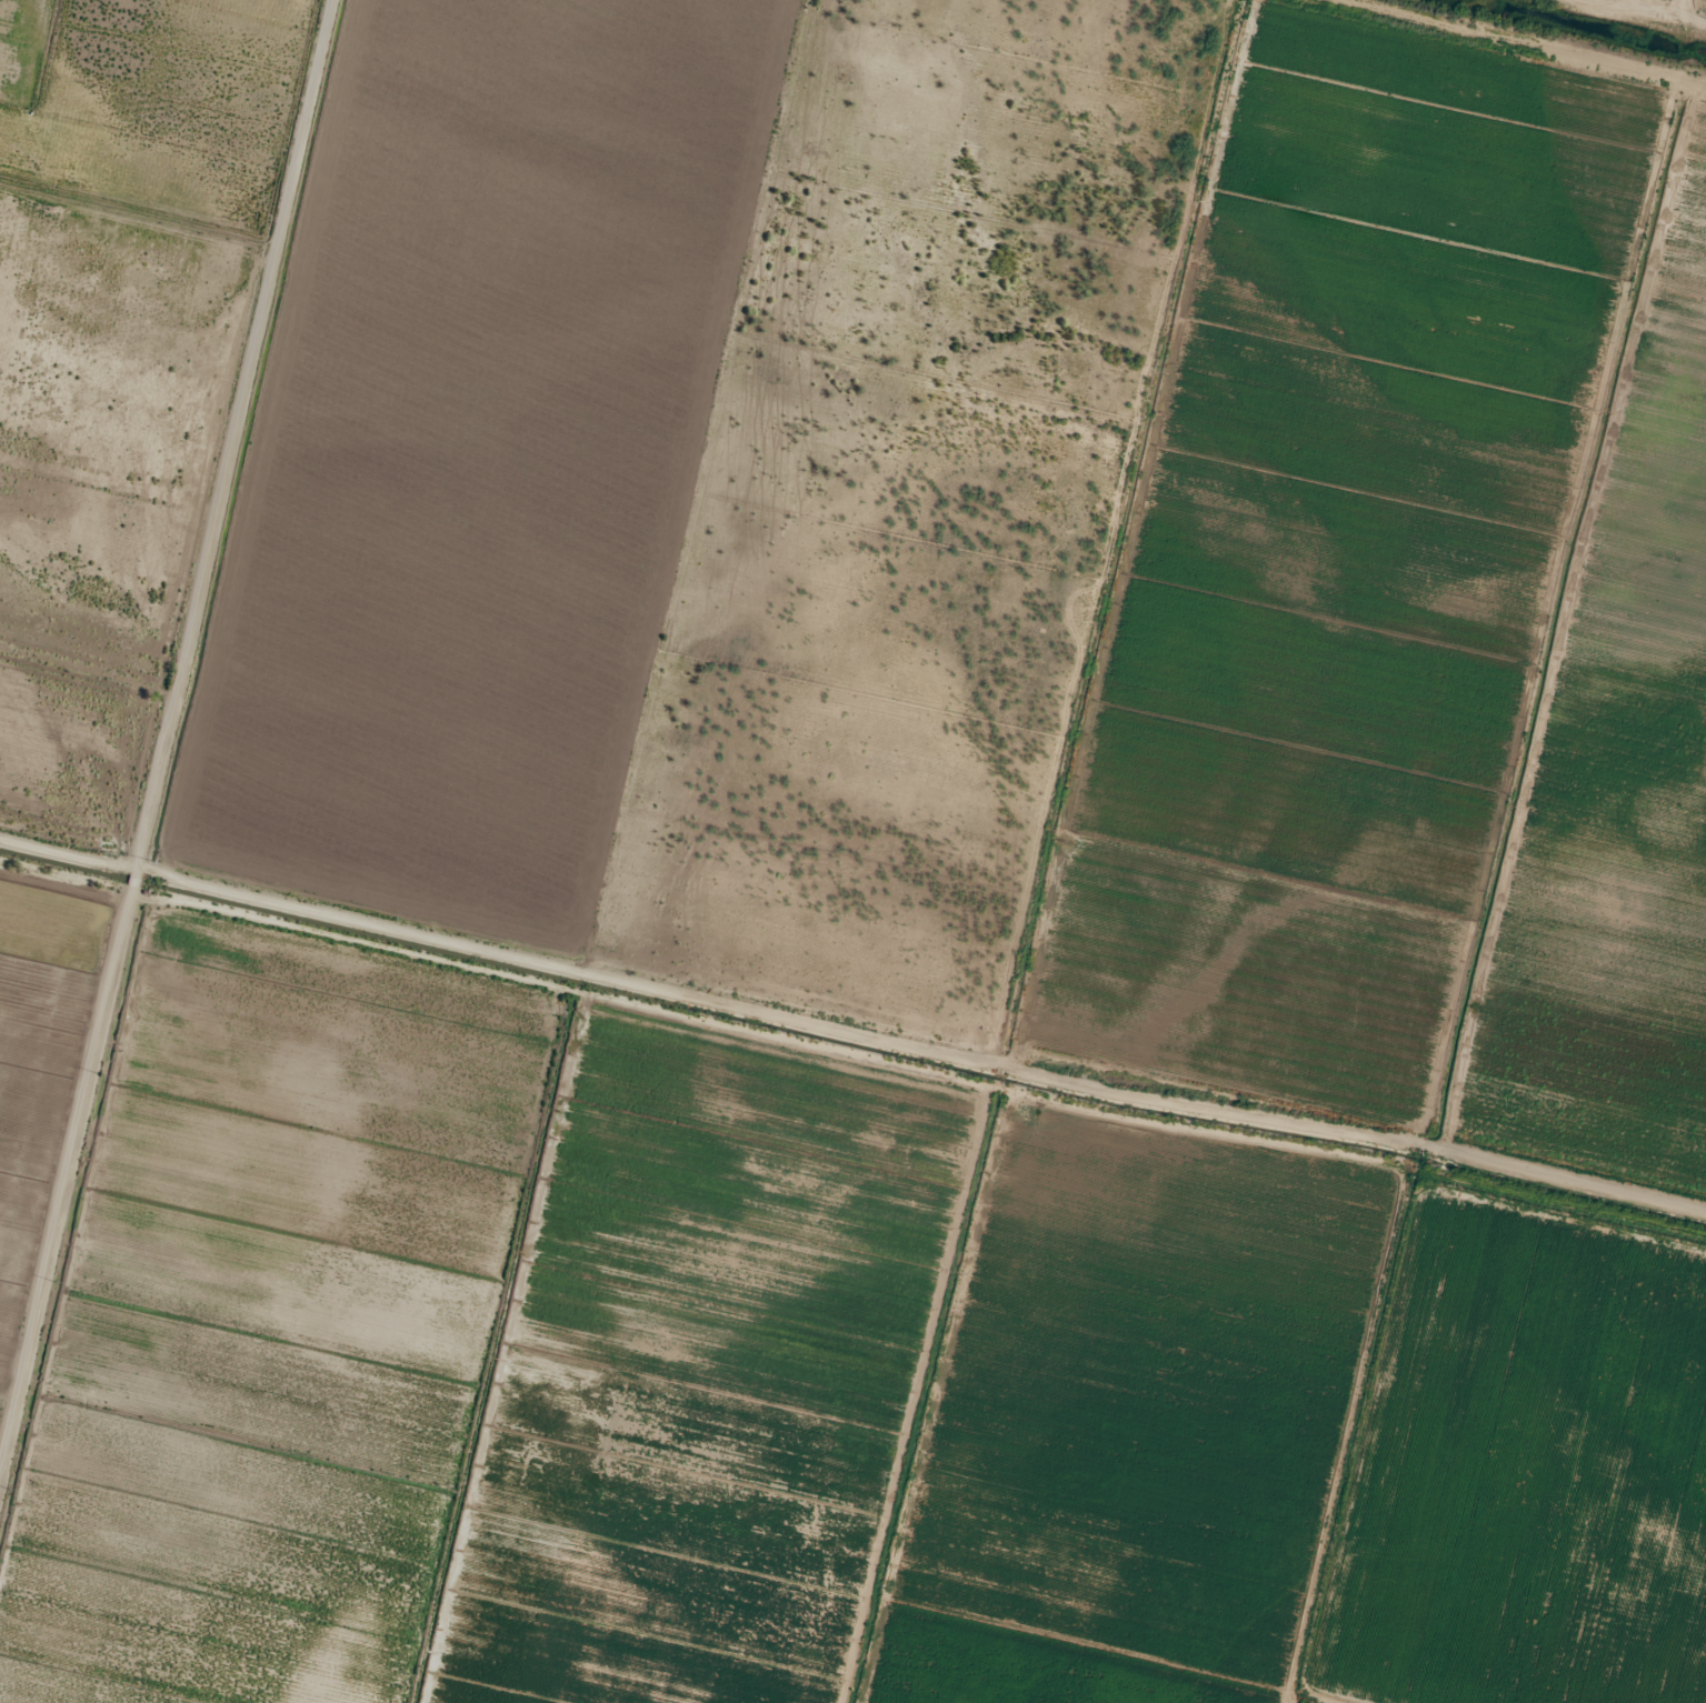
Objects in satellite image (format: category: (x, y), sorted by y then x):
road: (166, 744)

